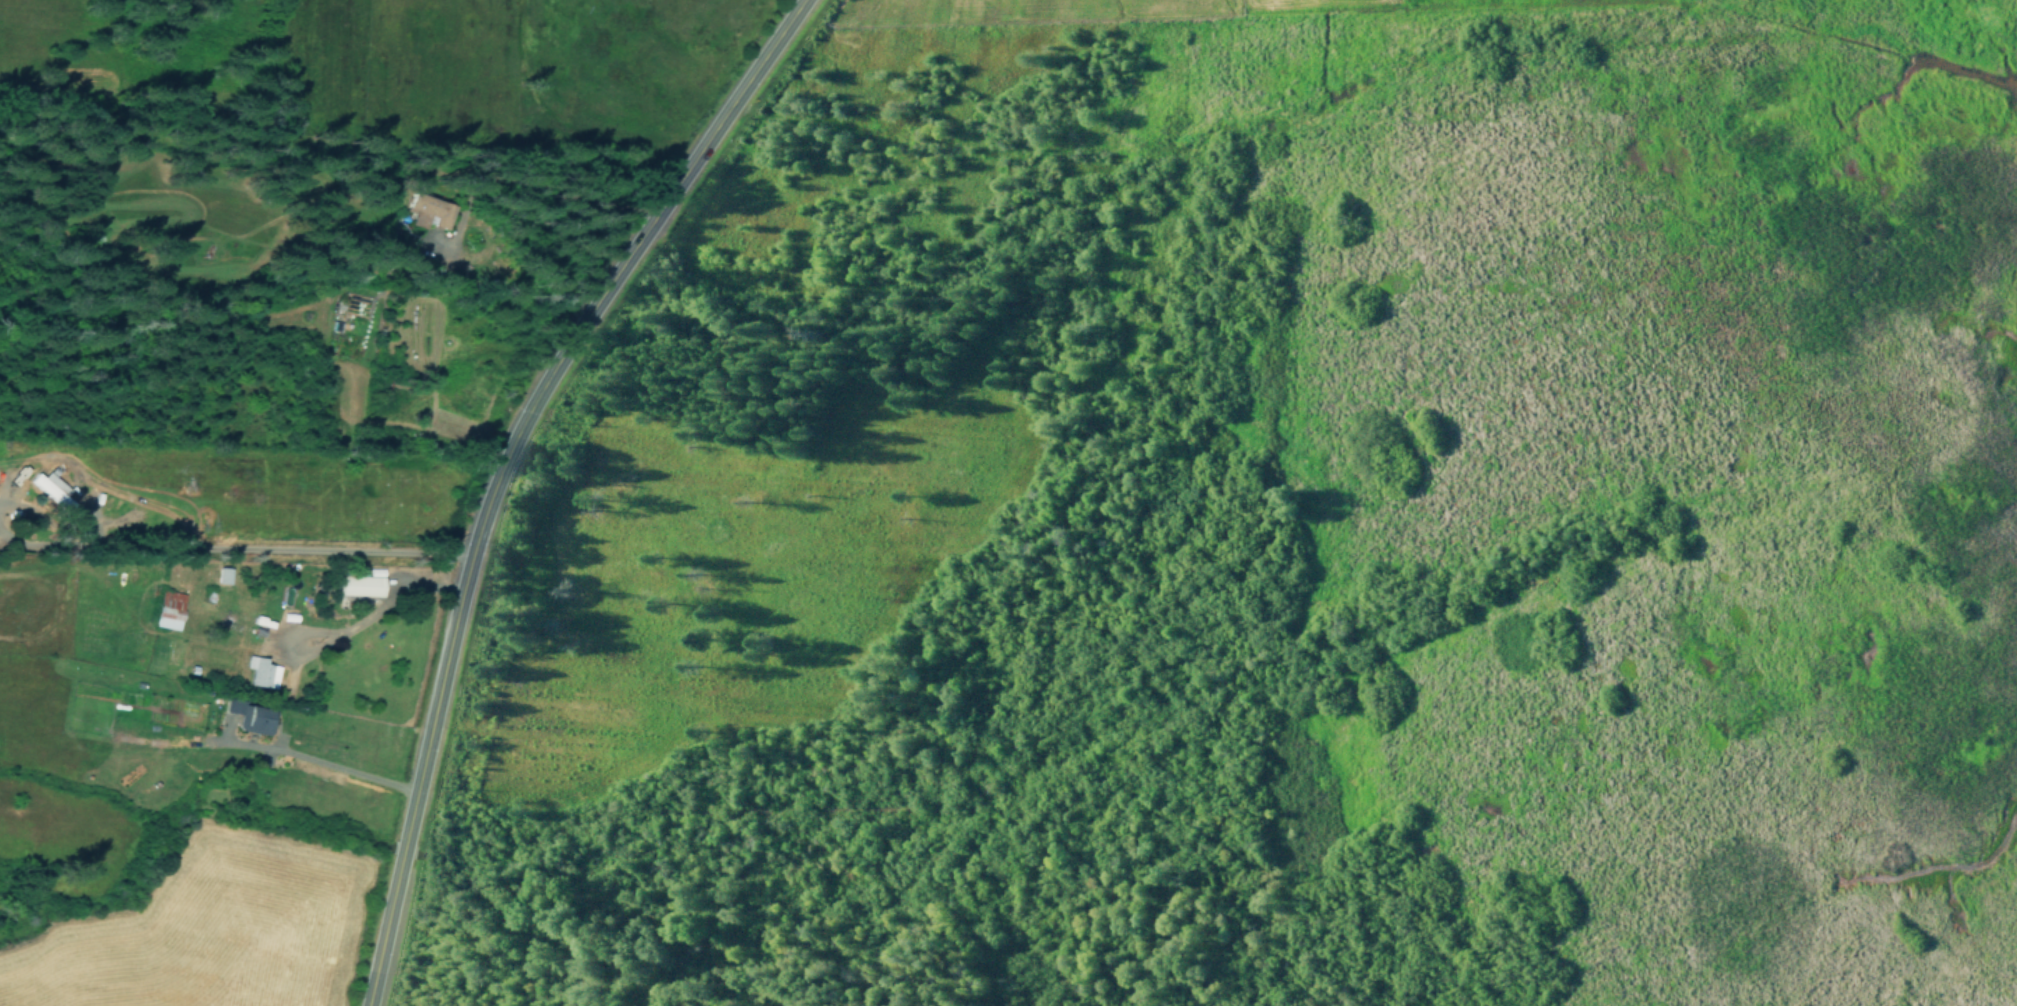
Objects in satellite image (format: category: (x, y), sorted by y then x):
road: (1226, 7)
road: (1237, 7)
road: (1116, 10)
road: (1034, 24)
crop: (402, 68)
building: (427, 211)
road: (499, 466)
building: (52, 488)
road: (1273, 511)
road: (234, 560)
building: (223, 575)
building: (356, 591)
building: (168, 609)
road: (333, 629)
building: (259, 668)
road: (1231, 673)
building: (250, 717)
road: (286, 750)
road: (1282, 918)
crop: (230, 929)

